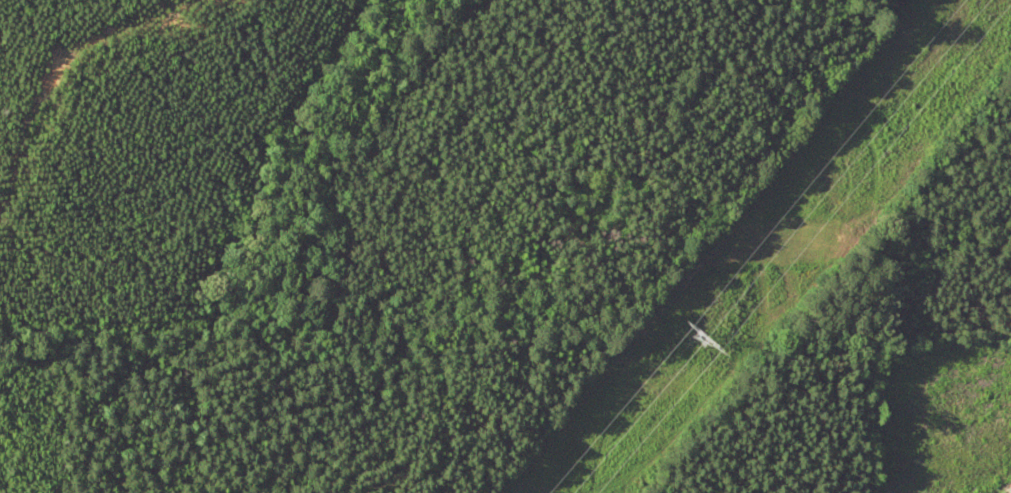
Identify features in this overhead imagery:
power tower: (696, 326)

